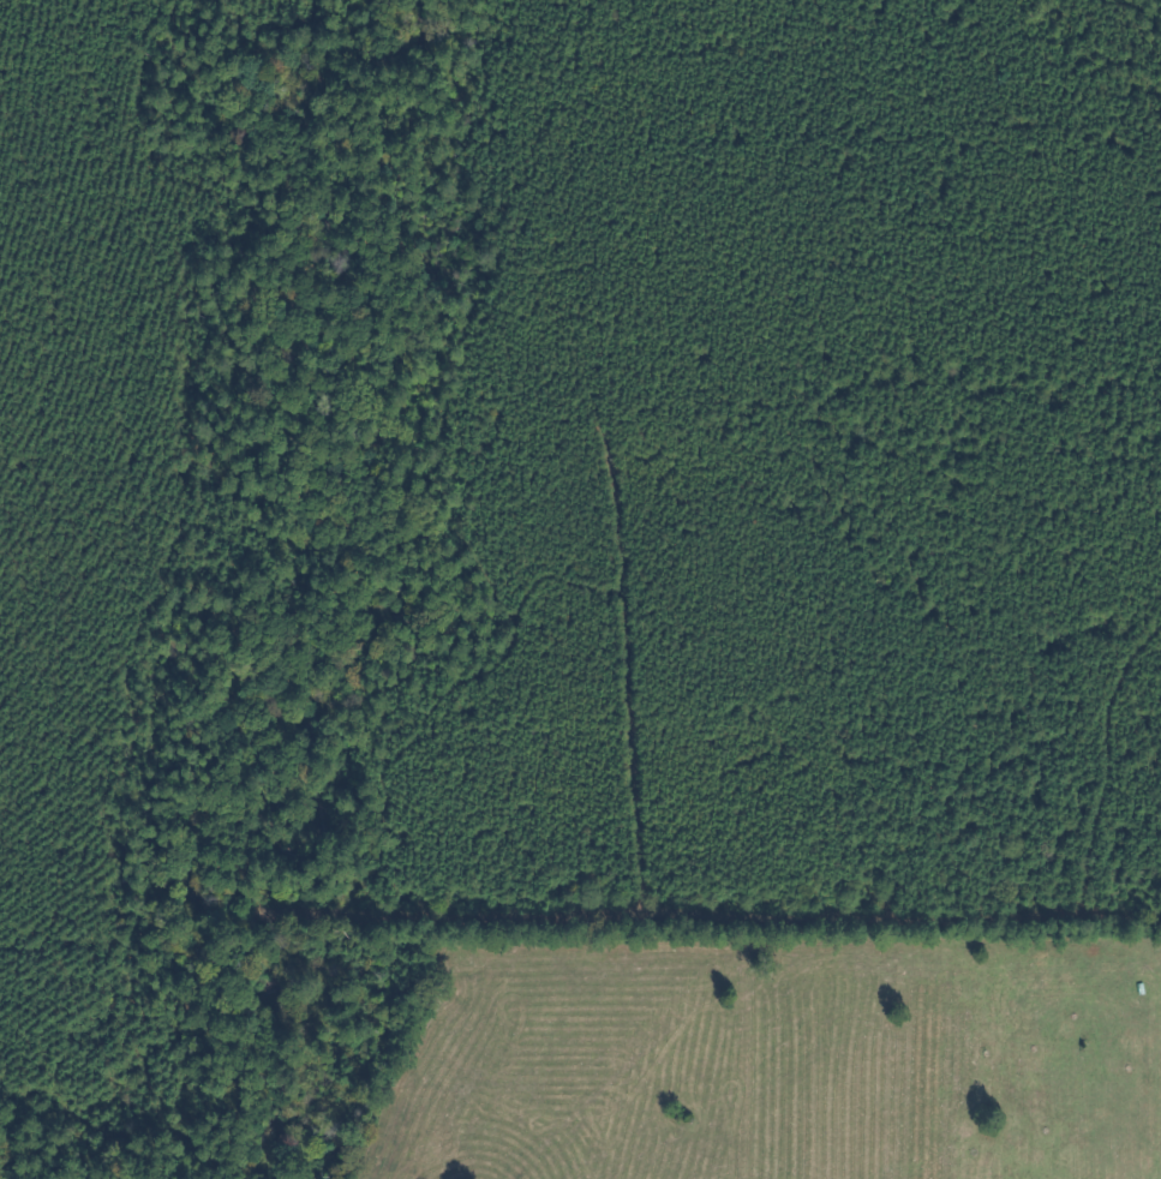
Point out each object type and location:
road: (1113, 37)
road: (752, 489)

